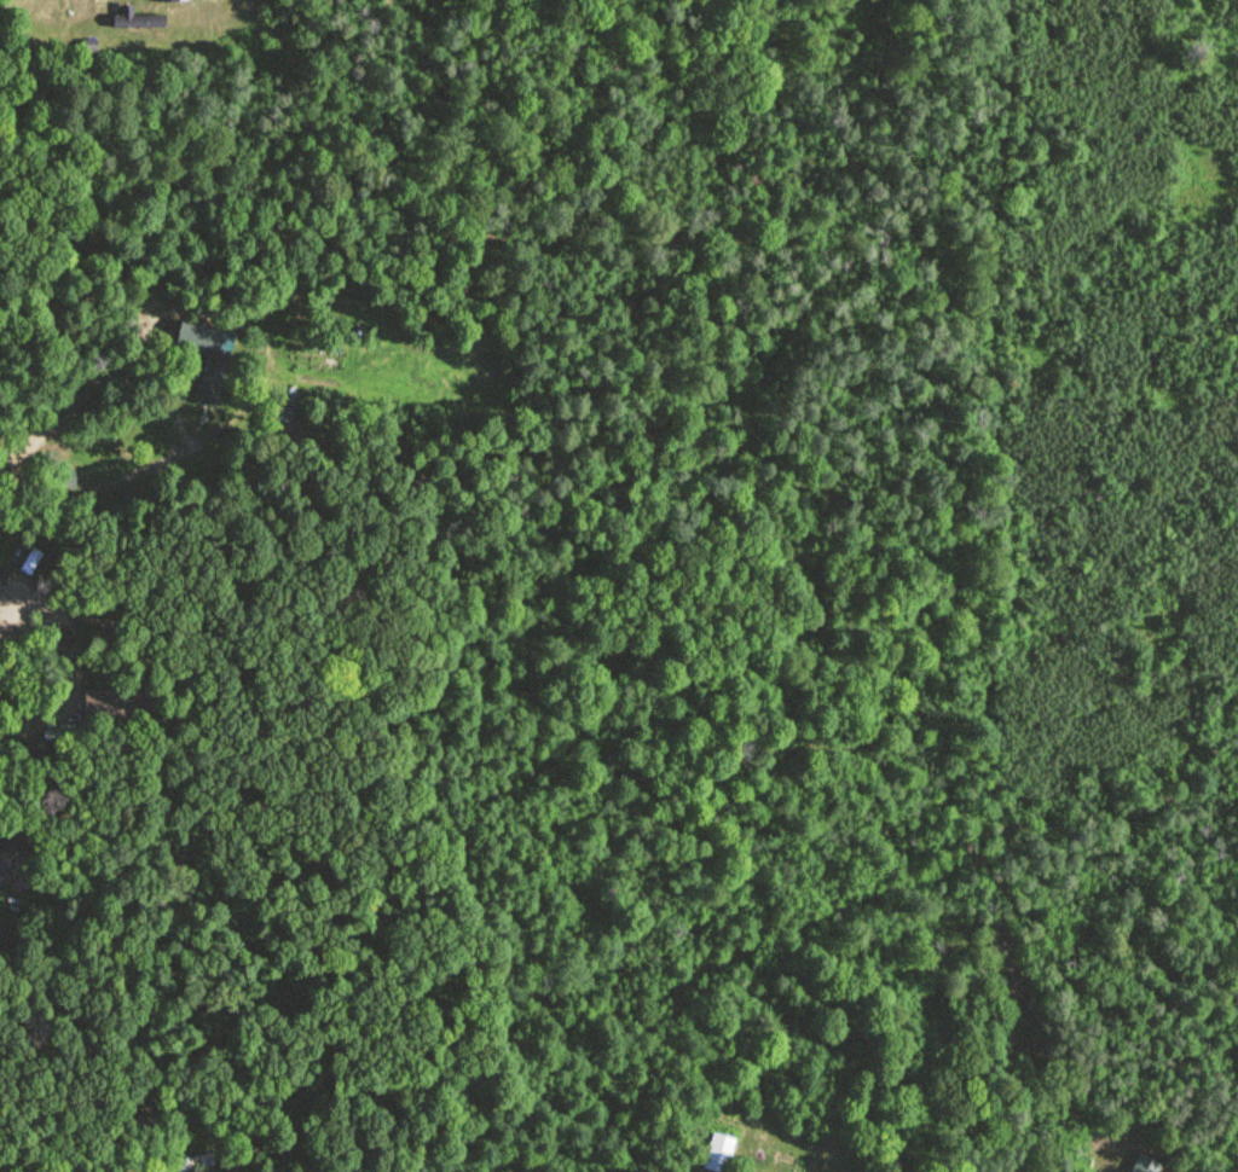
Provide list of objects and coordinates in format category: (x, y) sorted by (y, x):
building: (138, 19)
road: (6, 22)
building: (197, 337)
building: (210, 382)
road: (73, 402)
road: (141, 471)
building: (64, 480)
road: (77, 661)
building: (117, 707)
building: (41, 760)
building: (11, 857)
building: (718, 1151)
building: (1145, 1162)
building: (186, 1164)

